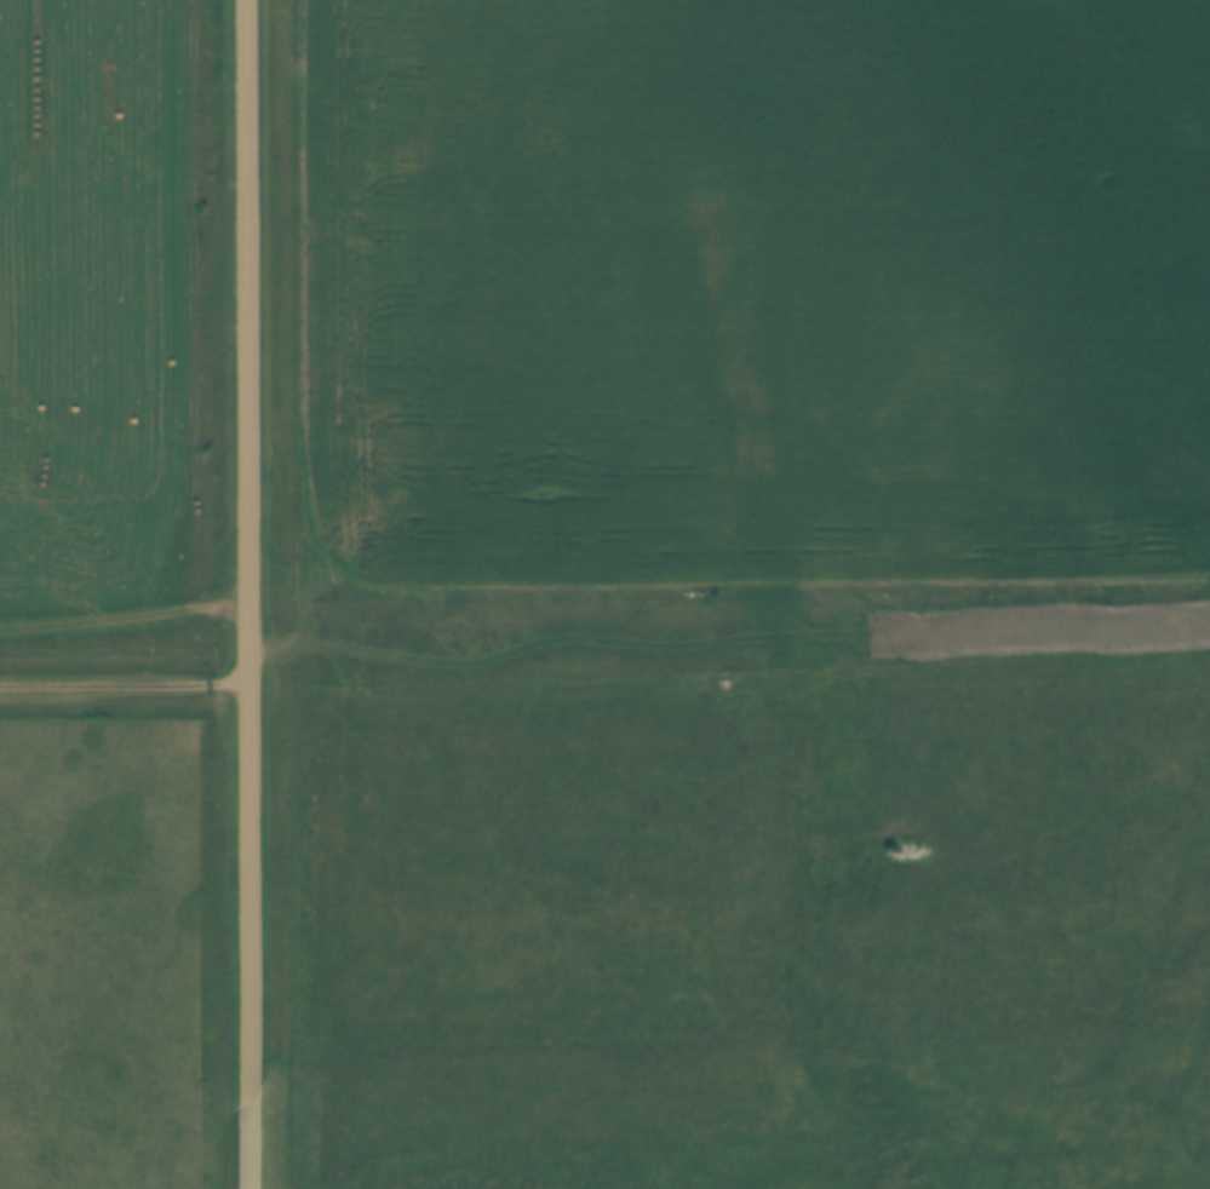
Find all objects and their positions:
road: (243, 594)
road: (122, 613)
road: (121, 684)

